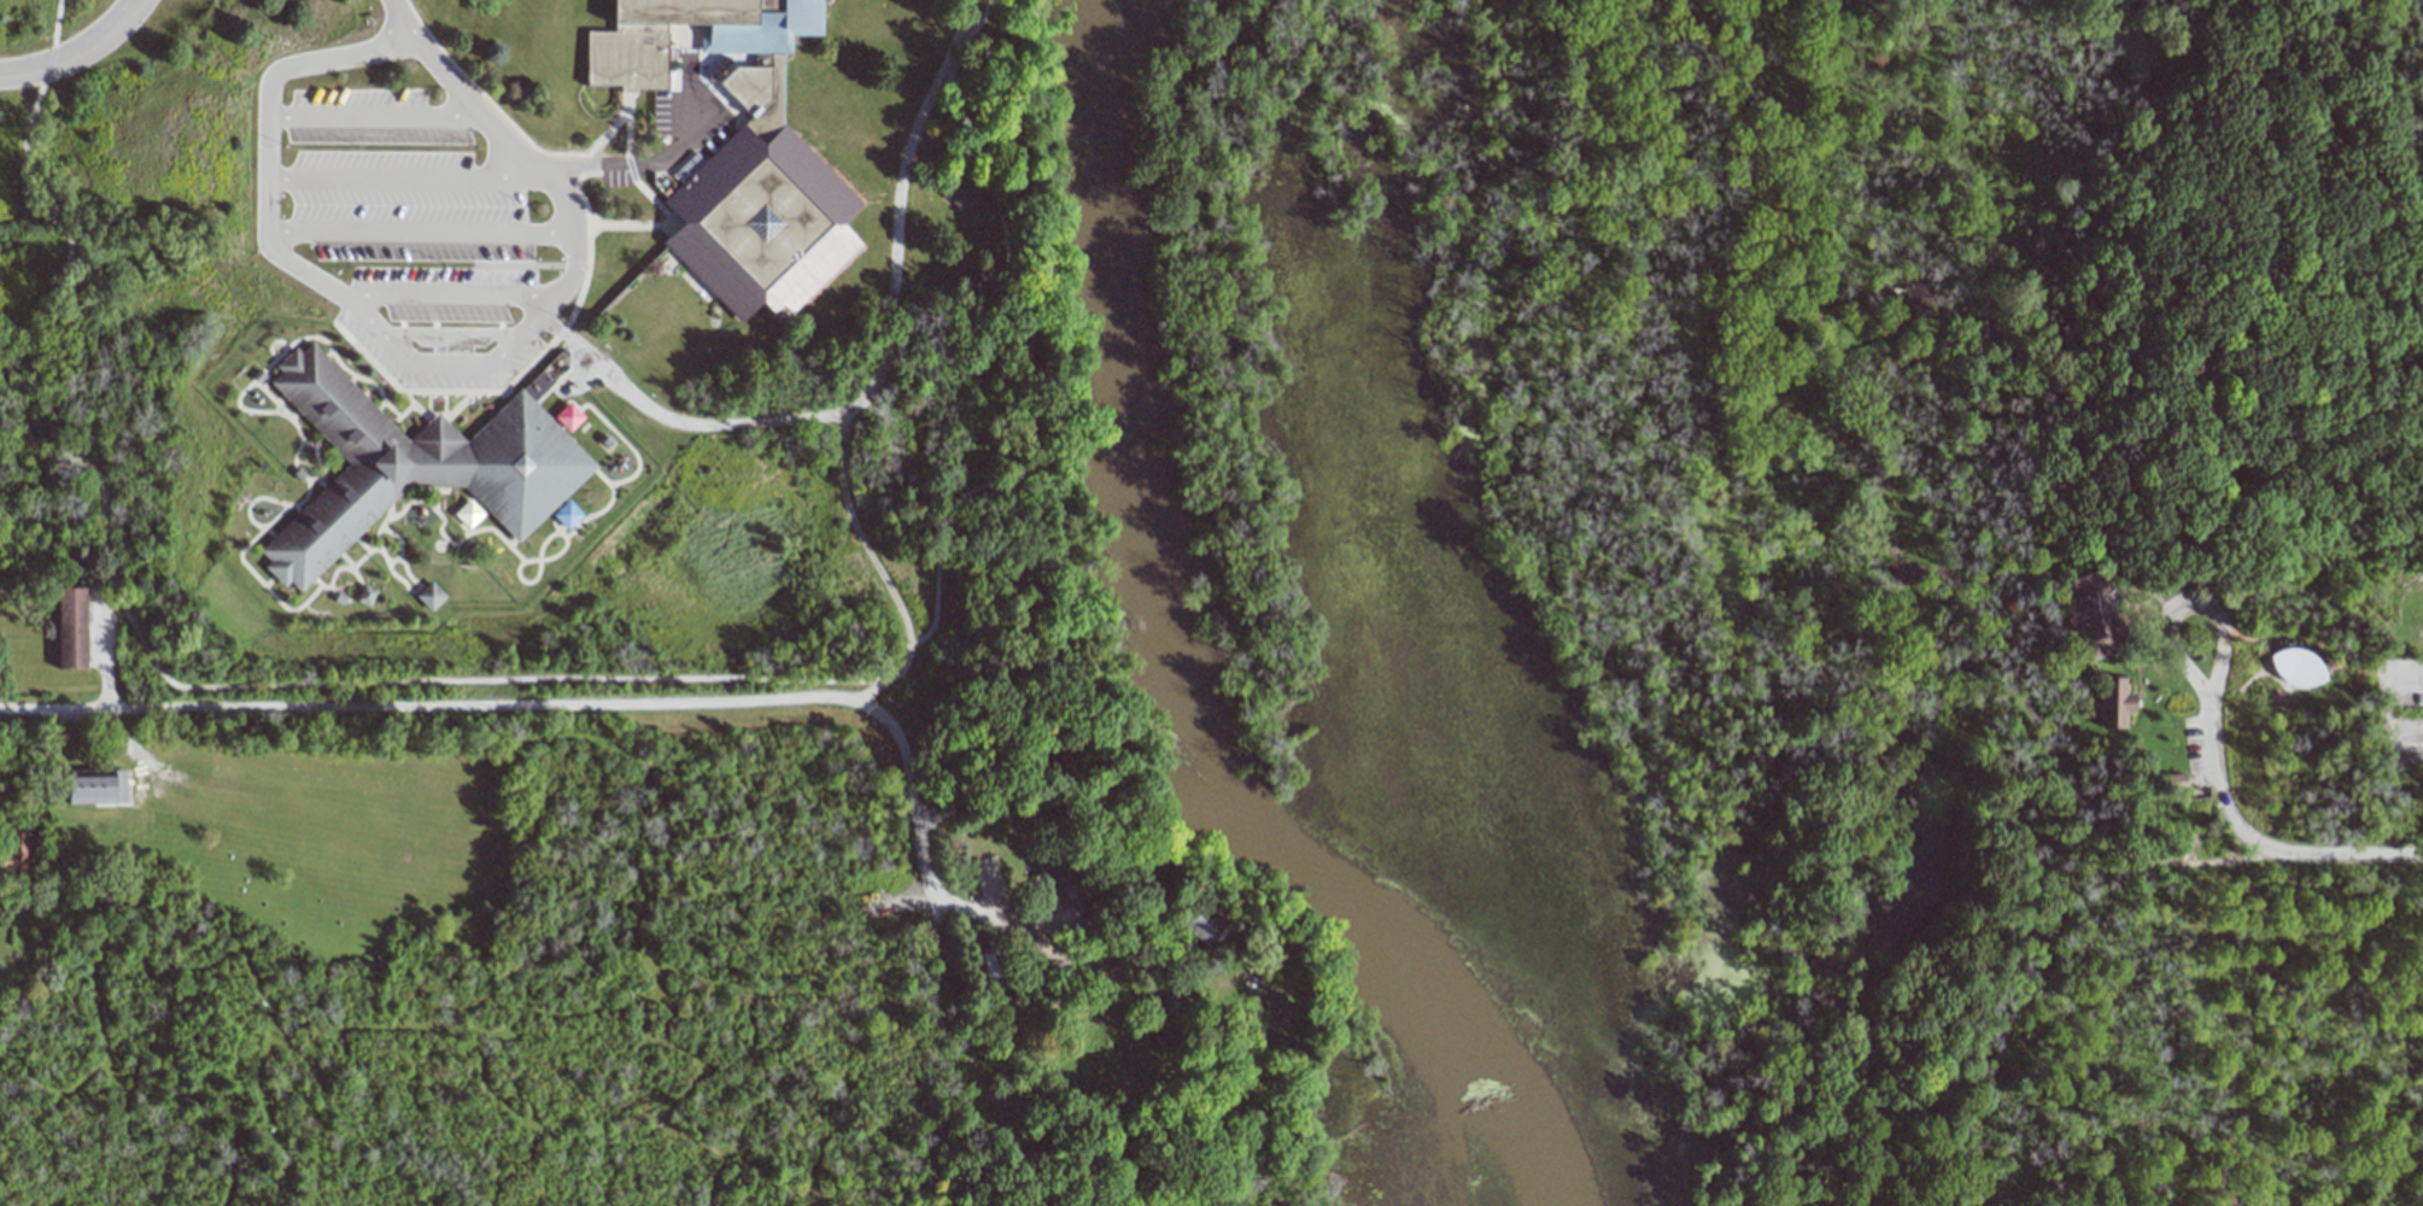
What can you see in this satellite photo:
road: (2065, 5)
road: (2409, 14)
road: (399, 21)
building: (692, 35)
road: (2055, 36)
road: (74, 49)
building: (748, 87)
road: (2140, 87)
road: (368, 119)
road: (655, 163)
road: (628, 175)
road: (398, 181)
building: (960, 188)
road: (634, 226)
building: (762, 226)
road: (419, 235)
road: (2191, 279)
road: (453, 295)
road: (578, 297)
road: (1018, 353)
park: (540, 355)
road: (405, 362)
road: (376, 370)
road: (873, 381)
road: (441, 406)
road: (456, 406)
road: (427, 408)
building: (567, 416)
building: (410, 466)
road: (2249, 481)
road: (1481, 493)
road: (1930, 508)
building: (468, 513)
building: (566, 514)
road: (874, 568)
road: (2137, 593)
building: (367, 595)
building: (431, 596)
road: (2102, 597)
road: (1935, 598)
road: (2199, 616)
building: (2084, 617)
building: (71, 627)
road: (2301, 651)
road: (148, 663)
building: (2296, 667)
river: (1180, 674)
road: (2100, 686)
building: (2114, 704)
road: (2143, 707)
road: (429, 708)
road: (2383, 714)
road: (2148, 750)
building: (95, 786)
road: (2260, 845)
building: (16, 854)
road: (919, 857)
road: (2330, 931)
road: (1985, 1059)
road: (1757, 1091)
road: (987, 1096)

